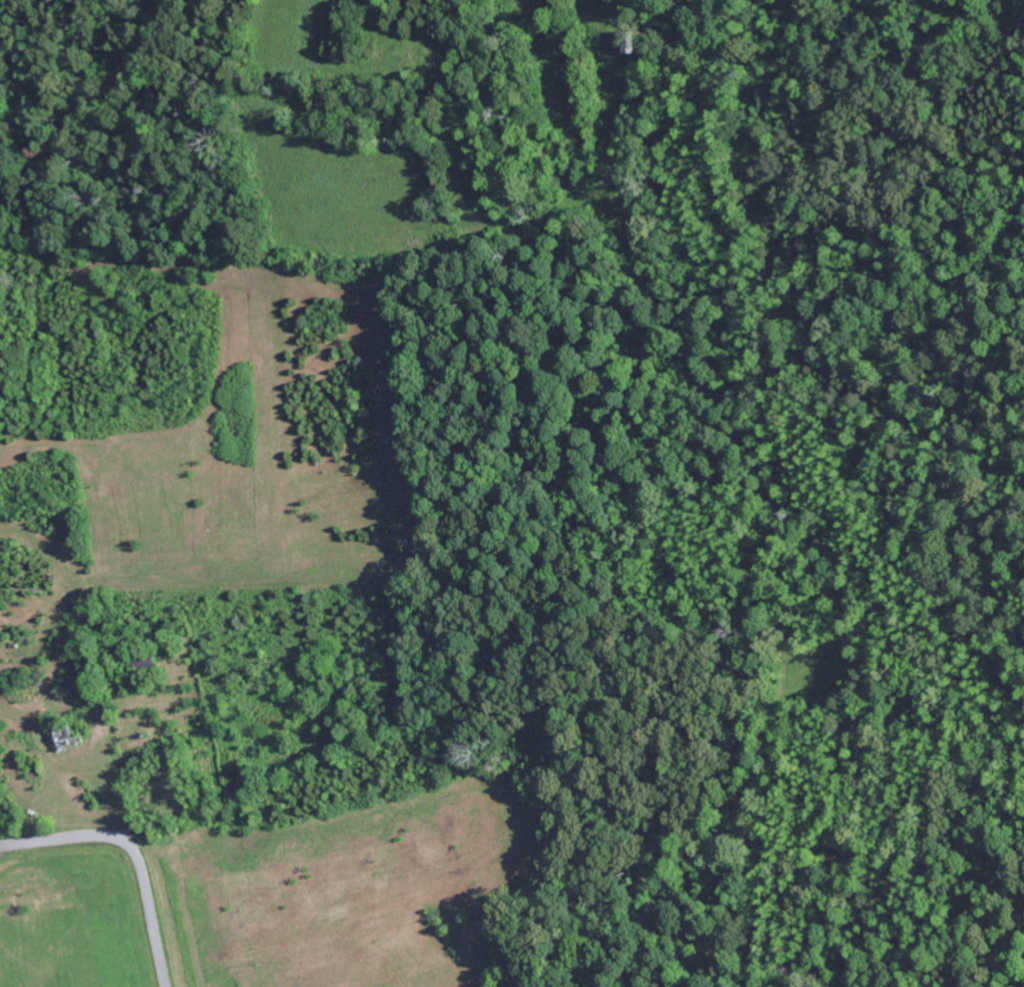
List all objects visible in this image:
road: (134, 855)

